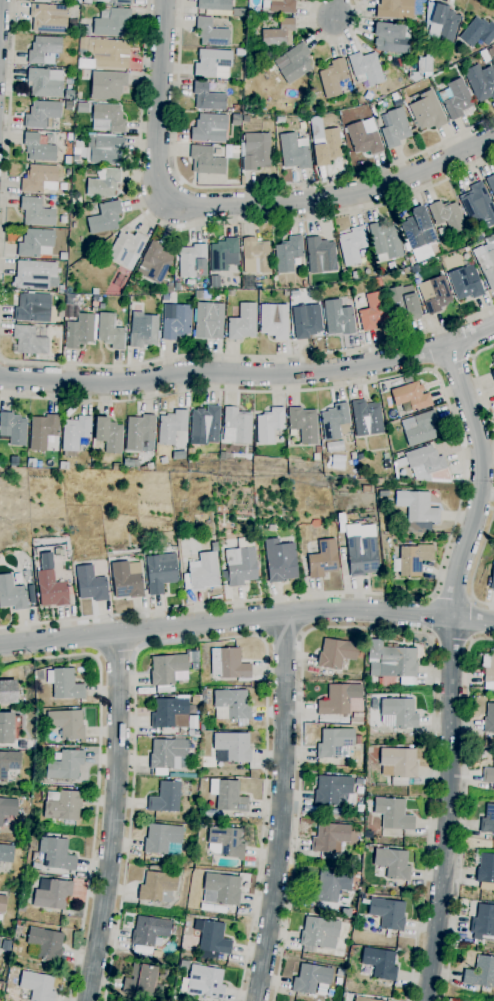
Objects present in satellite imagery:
building: (55, 0)
road: (492, 0)
building: (86, 1)
building: (117, 2)
building: (214, 4)
building: (278, 6)
building: (392, 8)
road: (334, 9)
building: (239, 12)
building: (49, 18)
building: (112, 22)
building: (441, 22)
building: (85, 30)
building: (211, 32)
building: (279, 33)
building: (477, 33)
building: (391, 37)
road: (334, 41)
building: (84, 43)
building: (44, 50)
building: (110, 53)
building: (213, 63)
building: (293, 63)
building: (365, 68)
building: (422, 68)
building: (332, 78)
building: (45, 82)
building: (481, 82)
building: (107, 85)
building: (69, 94)
building: (208, 98)
building: (455, 98)
building: (69, 105)
building: (82, 107)
building: (236, 108)
building: (315, 109)
building: (306, 111)
building: (427, 112)
building: (41, 114)
building: (107, 118)
building: (279, 120)
building: (209, 128)
building: (394, 128)
building: (69, 136)
building: (363, 139)
building: (324, 143)
road: (7, 144)
building: (38, 148)
building: (235, 149)
building: (106, 150)
building: (255, 151)
building: (294, 151)
building: (206, 160)
building: (39, 179)
building: (103, 182)
building: (490, 184)
road: (252, 187)
road: (233, 204)
building: (478, 205)
building: (36, 212)
building: (447, 215)
building: (105, 217)
road: (213, 224)
building: (417, 229)
building: (477, 235)
building: (385, 241)
building: (35, 242)
building: (352, 245)
building: (126, 249)
building: (224, 254)
building: (287, 254)
building: (320, 255)
building: (62, 256)
building: (255, 256)
building: (191, 260)
building: (486, 261)
building: (154, 263)
building: (36, 275)
building: (353, 275)
building: (215, 281)
building: (249, 282)
building: (304, 284)
building: (463, 285)
building: (177, 287)
building: (169, 289)
building: (198, 294)
building: (291, 294)
building: (434, 294)
building: (165, 296)
building: (94, 298)
building: (403, 301)
building: (33, 306)
building: (372, 312)
building: (338, 318)
building: (209, 320)
building: (175, 321)
building: (273, 321)
building: (305, 321)
building: (242, 322)
building: (79, 331)
building: (143, 331)
building: (110, 332)
building: (30, 338)
road: (247, 355)
road: (471, 356)
building: (493, 357)
road: (2, 360)
road: (452, 360)
building: (493, 365)
road: (434, 368)
building: (493, 373)
road: (249, 375)
road: (478, 382)
building: (411, 396)
building: (367, 418)
building: (335, 422)
building: (303, 424)
building: (269, 425)
building: (205, 426)
building: (236, 426)
building: (171, 427)
building: (14, 428)
building: (418, 428)
building: (42, 431)
building: (76, 432)
building: (140, 433)
building: (108, 435)
building: (317, 450)
building: (179, 455)
building: (353, 455)
building: (223, 456)
building: (385, 457)
building: (163, 460)
building: (131, 463)
building: (427, 464)
building: (117, 467)
road: (462, 481)
building: (378, 482)
building: (365, 489)
building: (383, 494)
building: (421, 509)
building: (218, 510)
building: (361, 550)
building: (321, 560)
building: (412, 560)
building: (280, 561)
building: (241, 566)
road: (477, 568)
building: (160, 572)
building: (202, 572)
building: (491, 578)
building: (125, 581)
building: (90, 584)
building: (51, 589)
building: (12, 594)
road: (451, 598)
road: (433, 616)
road: (246, 618)
road: (471, 619)
road: (366, 628)
road: (281, 636)
road: (451, 640)
road: (206, 641)
road: (116, 653)
building: (337, 653)
building: (393, 660)
building: (230, 665)
building: (194, 666)
road: (451, 669)
building: (168, 672)
building: (489, 674)
building: (64, 684)
building: (8, 692)
building: (338, 699)
building: (232, 706)
building: (168, 712)
building: (398, 713)
building: (489, 719)
building: (66, 724)
building: (8, 727)
building: (202, 728)
building: (357, 740)
building: (334, 743)
building: (233, 746)
building: (369, 750)
building: (166, 753)
building: (9, 763)
building: (398, 765)
building: (65, 766)
building: (488, 774)
road: (97, 781)
building: (359, 781)
building: (333, 791)
building: (228, 796)
building: (165, 797)
building: (62, 805)
building: (8, 808)
road: (281, 808)
road: (465, 809)
building: (334, 811)
building: (393, 816)
road: (113, 818)
building: (487, 820)
building: (200, 826)
building: (330, 838)
building: (163, 840)
building: (225, 842)
building: (6, 854)
building: (56, 854)
building: (355, 860)
building: (392, 863)
building: (36, 866)
building: (486, 872)
building: (329, 886)
building: (158, 887)
building: (221, 889)
building: (52, 894)
building: (2, 904)
building: (21, 908)
building: (213, 908)
building: (345, 913)
building: (387, 913)
building: (347, 922)
building: (18, 923)
building: (483, 923)
building: (149, 931)
building: (319, 933)
building: (211, 940)
building: (46, 943)
building: (6, 945)
building: (157, 954)
building: (380, 963)
building: (184, 964)
building: (339, 972)
building: (480, 972)
building: (163, 974)
building: (310, 979)
building: (141, 980)
building: (205, 982)
building: (37, 986)
building: (361, 999)

